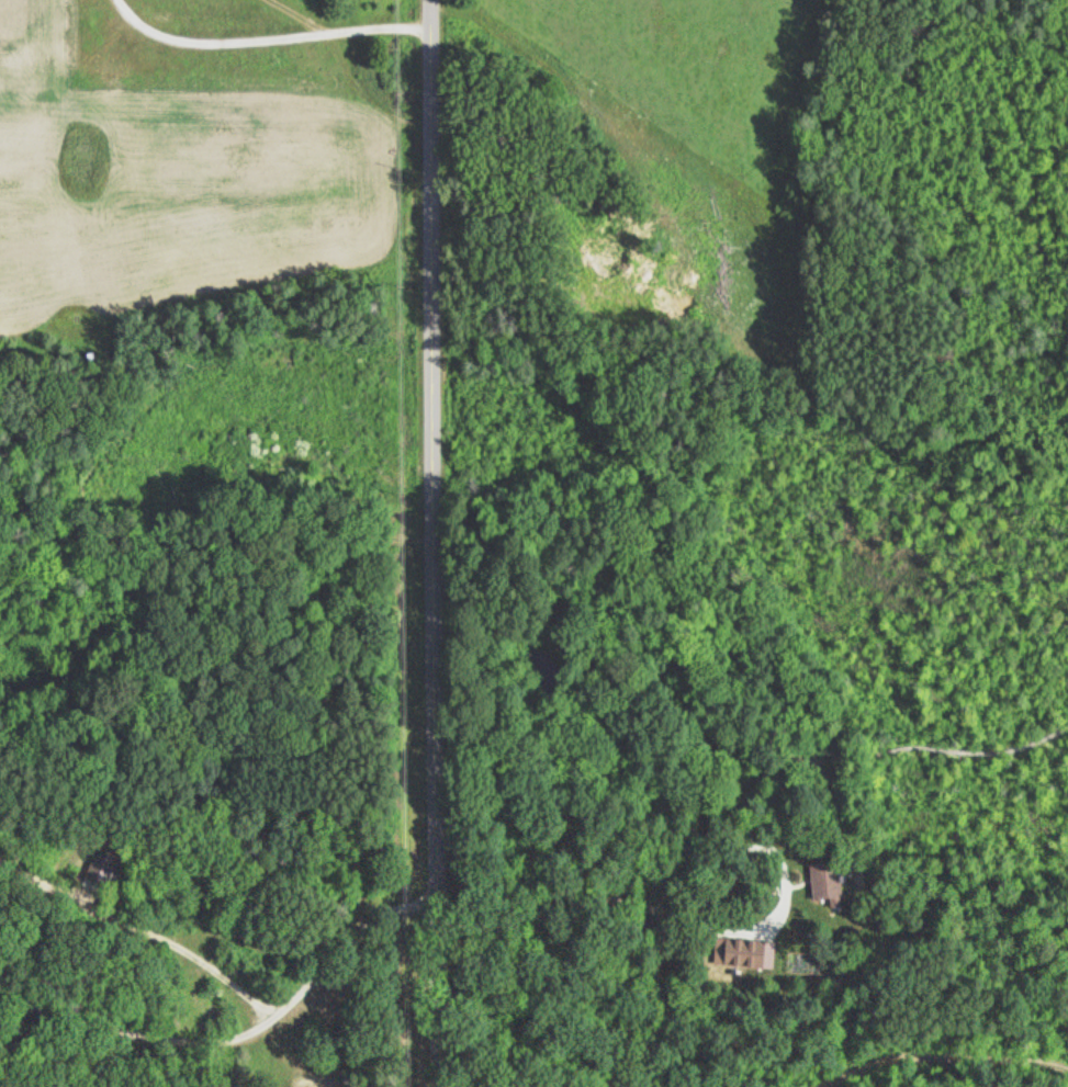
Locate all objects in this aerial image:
road: (430, 543)
road: (240, 1034)

